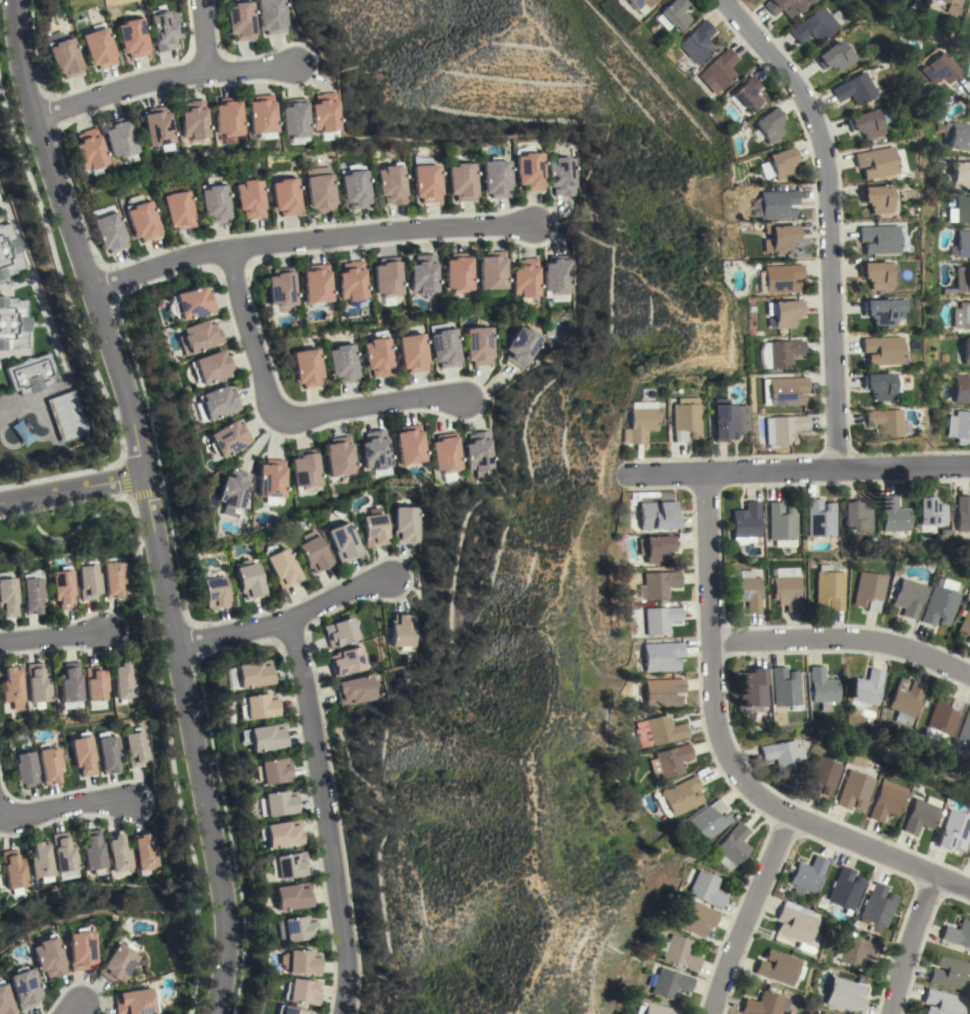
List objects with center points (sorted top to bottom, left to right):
building: (636, 3)
building: (952, 5)
building: (785, 6)
building: (672, 14)
building: (271, 16)
building: (239, 21)
building: (811, 25)
building: (164, 29)
road: (202, 35)
building: (132, 38)
building: (694, 42)
building: (98, 48)
building: (832, 57)
building: (64, 58)
building: (937, 67)
building: (716, 70)
road: (160, 80)
building: (853, 89)
road: (962, 90)
building: (743, 95)
building: (324, 112)
building: (260, 114)
building: (227, 117)
building: (294, 118)
building: (193, 121)
building: (866, 122)
building: (767, 124)
building: (156, 126)
building: (957, 135)
building: (119, 138)
building: (89, 149)
building: (874, 162)
building: (778, 163)
building: (529, 171)
building: (960, 175)
building: (561, 176)
building: (496, 177)
building: (425, 180)
building: (462, 181)
building: (391, 184)
building: (319, 189)
building: (355, 189)
building: (285, 196)
building: (249, 199)
building: (874, 199)
building: (214, 203)
building: (776, 204)
building: (178, 210)
building: (960, 210)
road: (831, 216)
building: (142, 221)
building: (109, 232)
building: (779, 238)
building: (877, 239)
road: (312, 241)
building: (963, 243)
building: (9, 252)
building: (491, 270)
building: (457, 272)
building: (422, 274)
building: (876, 274)
building: (557, 275)
building: (386, 277)
building: (525, 278)
building: (781, 278)
building: (962, 279)
road: (59, 281)
building: (351, 281)
building: (316, 283)
building: (281, 289)
building: (192, 303)
building: (880, 311)
building: (784, 313)
building: (961, 316)
building: (13, 323)
building: (198, 336)
building: (477, 346)
building: (521, 346)
building: (443, 347)
building: (882, 351)
building: (966, 351)
building: (411, 352)
building: (780, 353)
building: (377, 356)
building: (341, 364)
building: (211, 367)
building: (306, 367)
building: (31, 374)
building: (877, 386)
building: (961, 389)
building: (784, 390)
building: (216, 402)
road: (284, 412)
building: (66, 416)
building: (685, 418)
building: (724, 420)
building: (883, 421)
building: (638, 424)
building: (959, 426)
building: (784, 428)
building: (226, 438)
building: (409, 444)
building: (374, 450)
building: (478, 452)
building: (445, 455)
building: (338, 456)
road: (802, 468)
building: (305, 469)
road: (60, 476)
building: (270, 478)
road: (70, 487)
building: (231, 489)
road: (146, 501)
building: (931, 513)
building: (963, 513)
building: (658, 515)
building: (894, 515)
building: (856, 516)
building: (820, 519)
building: (745, 522)
building: (781, 524)
building: (405, 525)
building: (374, 530)
building: (343, 542)
building: (656, 548)
building: (313, 554)
building: (282, 567)
building: (112, 578)
building: (249, 580)
building: (87, 581)
building: (660, 584)
building: (62, 588)
building: (786, 588)
building: (828, 588)
building: (747, 590)
building: (867, 590)
building: (214, 592)
building: (31, 594)
building: (7, 597)
building: (906, 597)
building: (935, 606)
building: (661, 619)
road: (287, 621)
building: (964, 622)
building: (402, 631)
building: (341, 632)
road: (52, 636)
road: (842, 639)
building: (662, 656)
building: (347, 662)
building: (254, 674)
building: (124, 682)
building: (37, 683)
building: (71, 683)
building: (95, 683)
building: (820, 686)
building: (12, 687)
building: (865, 687)
building: (751, 688)
building: (784, 688)
building: (354, 690)
building: (663, 692)
building: (903, 699)
building: (258, 706)
building: (941, 715)
building: (665, 730)
building: (963, 730)
building: (264, 737)
building: (135, 748)
building: (108, 753)
building: (783, 754)
building: (82, 755)
road: (727, 756)
building: (670, 760)
building: (48, 765)
building: (25, 769)
building: (274, 771)
building: (823, 776)
building: (855, 790)
building: (682, 796)
building: (888, 800)
building: (278, 803)
road: (66, 807)
road: (323, 816)
building: (921, 816)
building: (710, 819)
building: (954, 831)
building: (281, 833)
building: (734, 844)
building: (93, 852)
building: (145, 852)
building: (64, 854)
building: (119, 854)
building: (969, 856)
building: (41, 860)
building: (289, 865)
building: (13, 869)
building: (807, 875)
building: (705, 888)
building: (843, 890)
building: (291, 896)
building: (877, 908)
road: (746, 914)
building: (695, 917)
building: (795, 924)
building: (295, 929)
building: (957, 934)
road: (909, 943)
building: (79, 949)
building: (857, 950)
building: (681, 953)
building: (46, 957)
building: (302, 962)
building: (117, 963)
building: (775, 967)
building: (948, 973)
building: (670, 983)
building: (23, 987)
building: (302, 991)
building: (845, 995)
building: (4, 1002)
building: (134, 1002)
building: (939, 1003)
building: (763, 1004)
road: (71, 1007)
building: (654, 1009)
building: (288, 1010)
building: (821, 1013)

